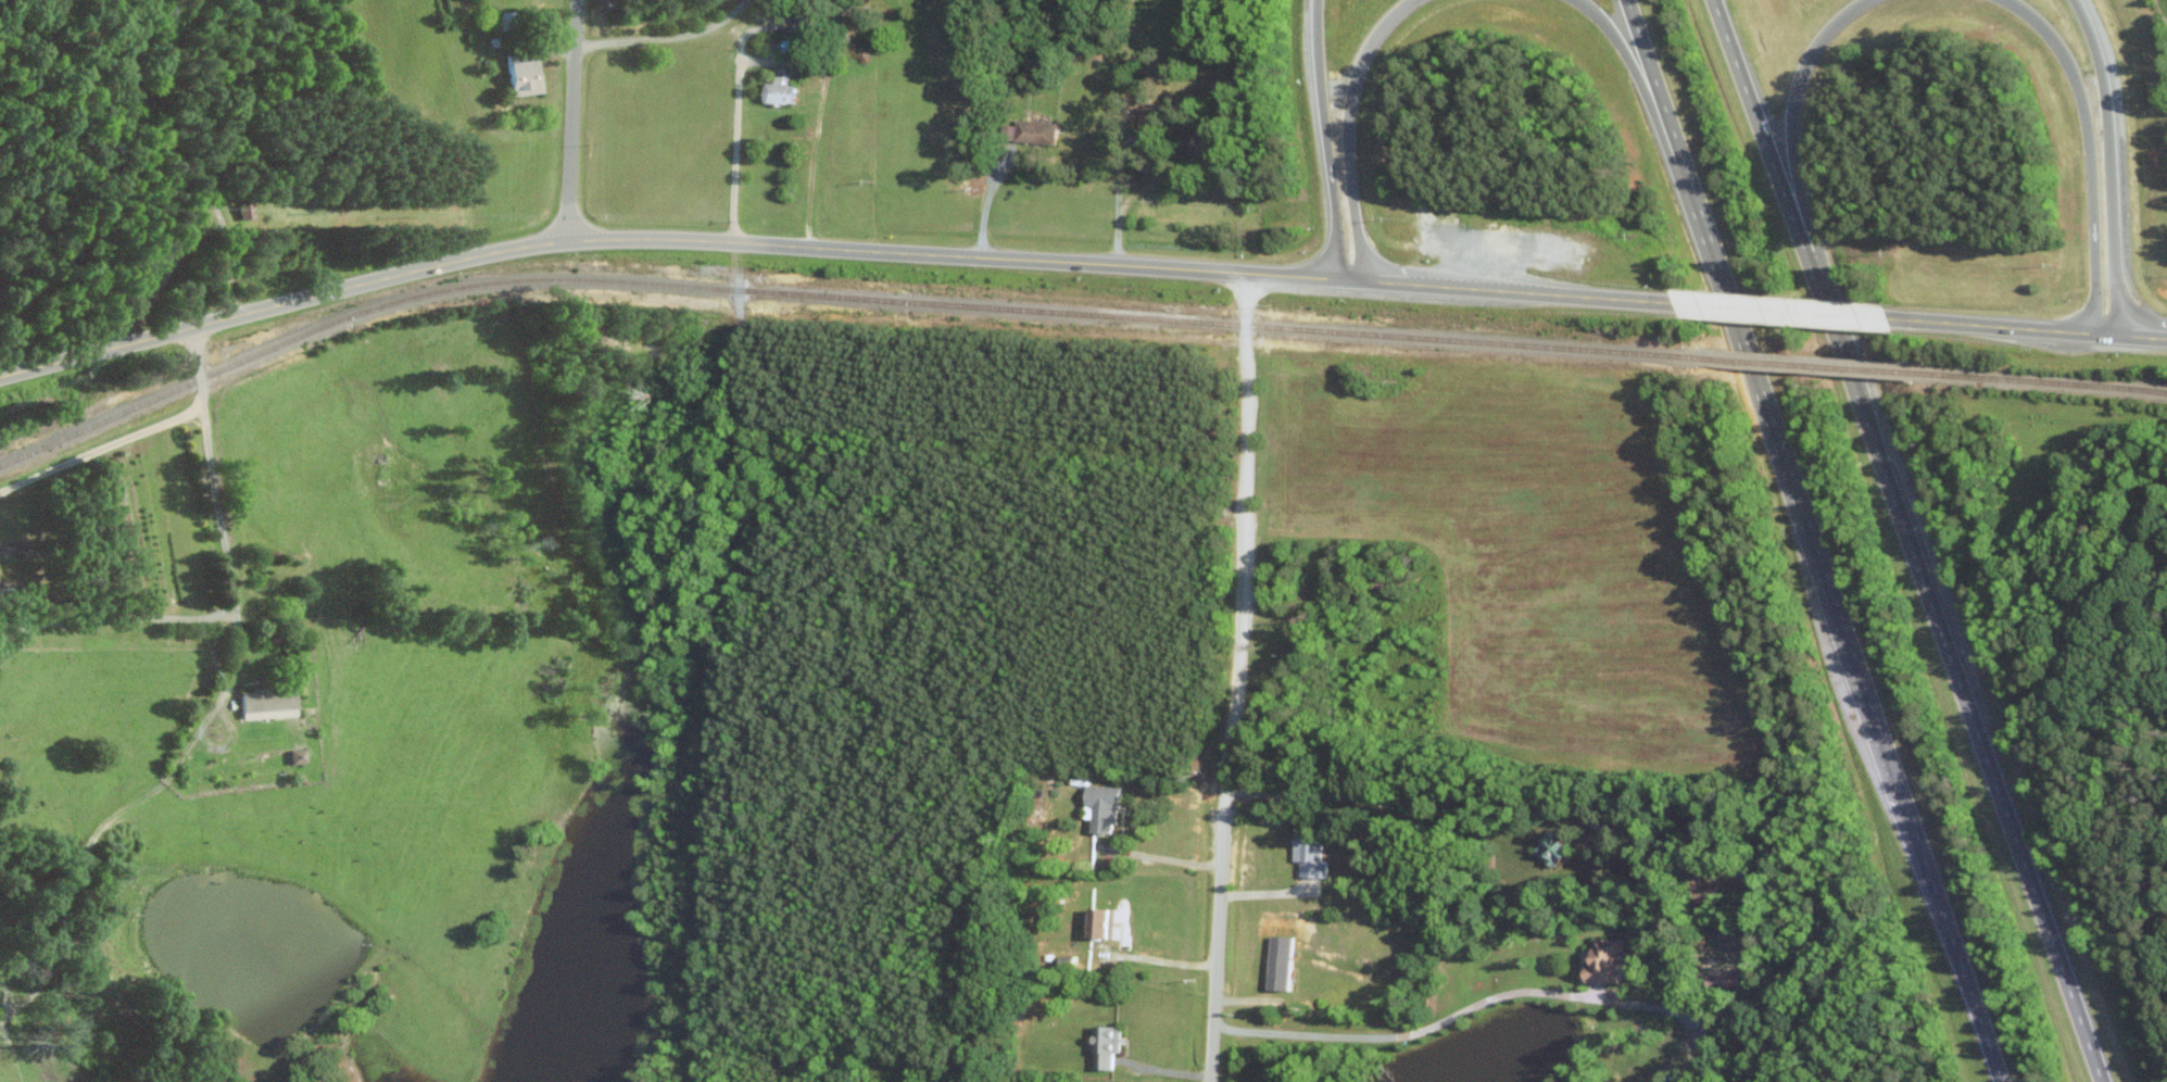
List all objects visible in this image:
road: (669, 38)
road: (1625, 62)
building: (530, 75)
building: (783, 90)
road: (1790, 115)
road: (575, 117)
road: (1346, 128)
building: (1041, 130)
road: (740, 135)
road: (1324, 138)
road: (159, 142)
road: (2089, 150)
road: (1122, 151)
road: (2106, 163)
road: (984, 198)
road: (827, 241)
railway: (829, 293)
road: (1777, 311)
road: (2026, 328)
railway: (1799, 361)
railway: (2036, 379)
road: (104, 449)
road: (1906, 541)
road: (1807, 542)
road: (236, 588)
road: (1230, 676)
building: (274, 700)
road: (218, 705)
building: (303, 755)
road: (1411, 798)
building: (1105, 807)
building: (1561, 848)
building: (1312, 852)
road: (1164, 857)
building: (1107, 920)
road: (1156, 958)
building: (1612, 959)
building: (1283, 961)
road: (1406, 1032)
building: (1109, 1044)

